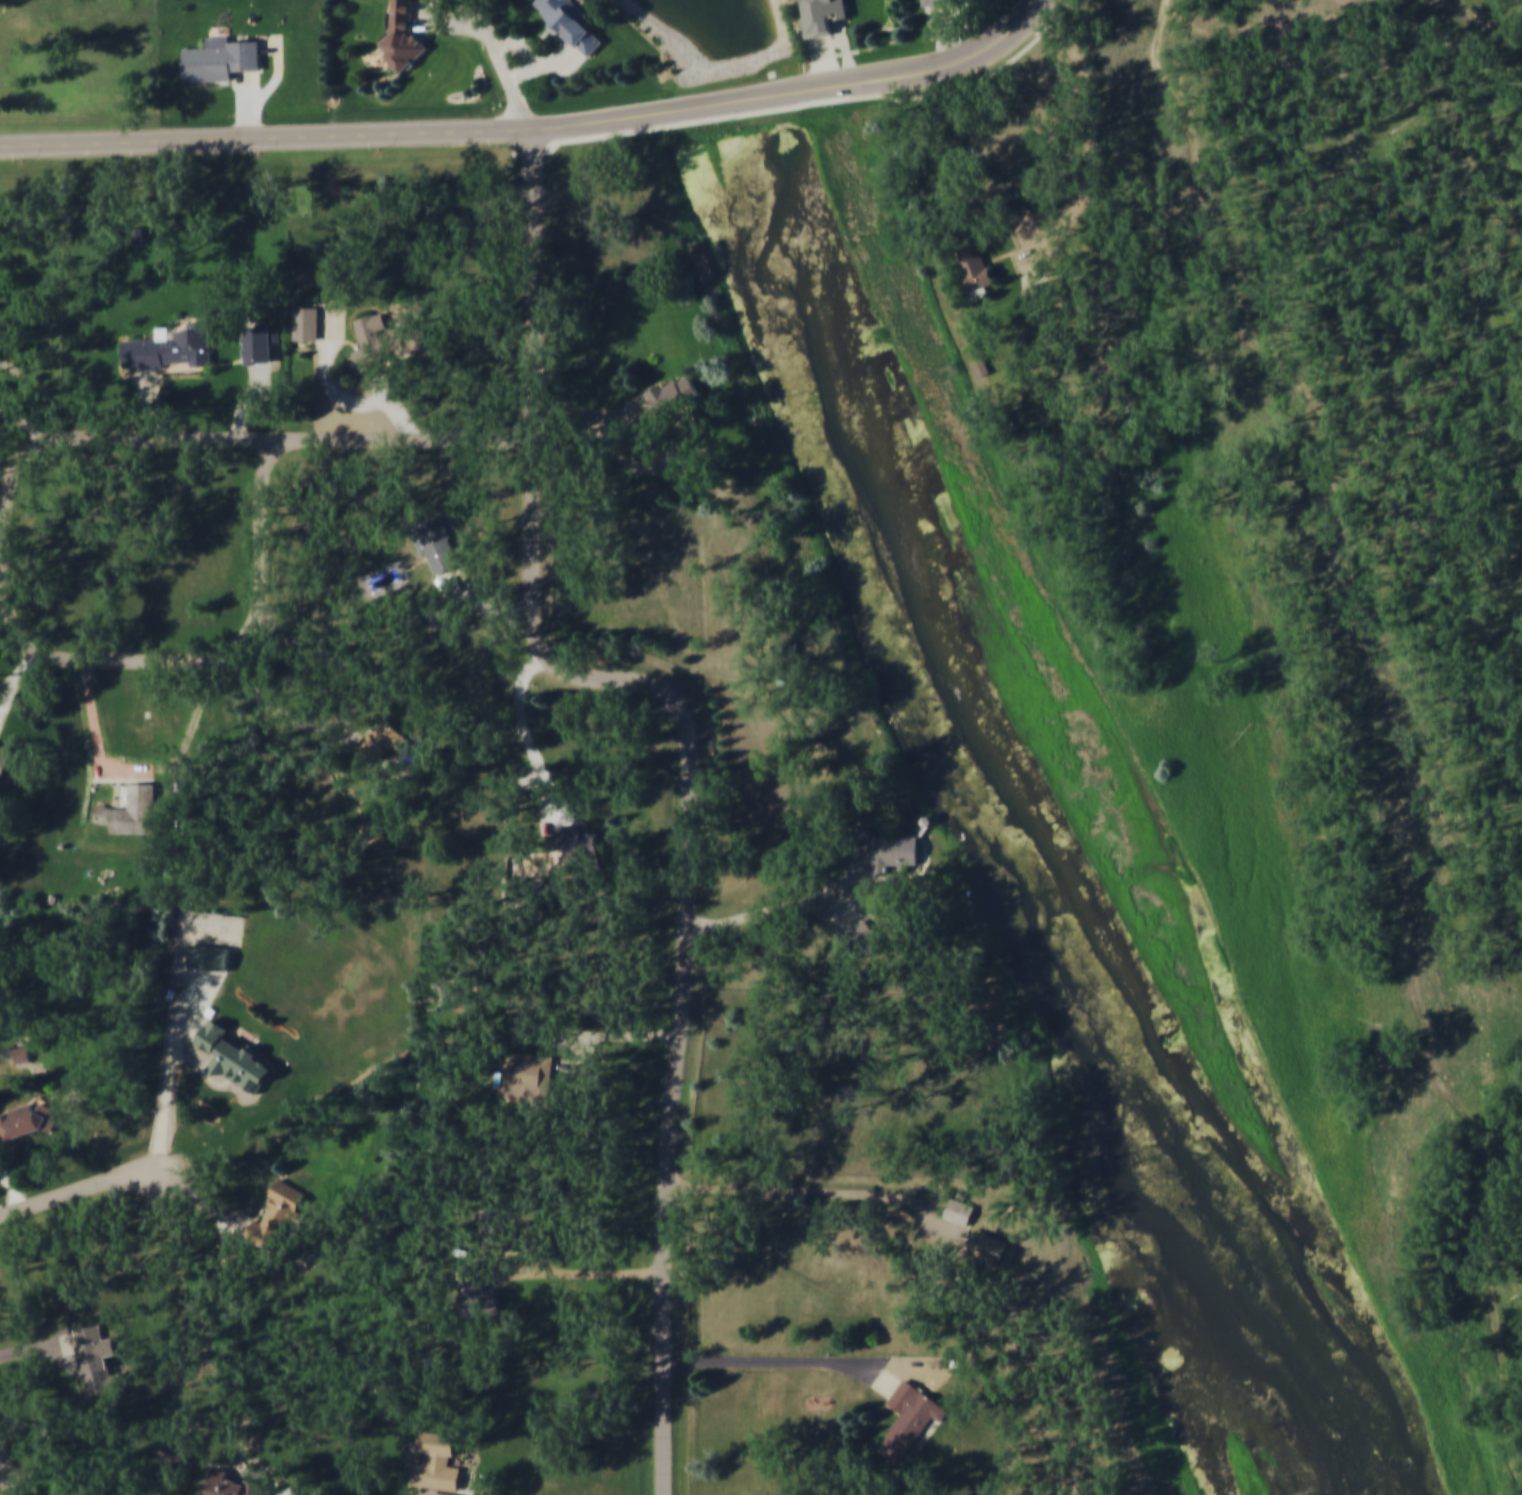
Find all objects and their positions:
building: (939, 1)
road: (436, 9)
building: (823, 15)
road: (449, 19)
building: (573, 22)
road: (968, 25)
building: (402, 34)
road: (523, 42)
road: (788, 46)
road: (680, 52)
road: (835, 54)
building: (220, 59)
road: (503, 65)
road: (548, 66)
road: (926, 71)
road: (278, 74)
road: (829, 100)
road: (250, 106)
road: (397, 140)
road: (1091, 146)
building: (980, 266)
building: (1049, 294)
building: (306, 323)
building: (276, 335)
building: (393, 341)
building: (257, 343)
building: (168, 346)
road: (532, 364)
building: (989, 367)
road: (328, 379)
road: (27, 388)
building: (675, 393)
road: (251, 399)
road: (153, 402)
road: (390, 402)
road: (18, 419)
building: (644, 423)
road: (44, 433)
road: (613, 448)
road: (4, 488)
road: (5, 512)
building: (439, 545)
road: (2, 588)
road: (481, 604)
road: (441, 606)
building: (410, 621)
building: (782, 650)
road: (18, 674)
road: (349, 712)
road: (1391, 727)
road: (528, 738)
road: (97, 740)
park: (1316, 742)
building: (378, 745)
building: (4, 760)
park: (760, 764)
road: (342, 778)
building: (134, 810)
building: (862, 827)
building: (373, 832)
building: (576, 841)
building: (896, 852)
building: (539, 894)
road: (864, 899)
road: (792, 906)
road: (838, 913)
river: (1035, 914)
building: (862, 938)
building: (209, 957)
road: (683, 995)
building: (530, 1000)
road: (195, 1023)
road: (593, 1036)
building: (20, 1055)
building: (232, 1059)
road: (171, 1068)
building: (529, 1076)
building: (26, 1121)
road: (14, 1189)
road: (79, 1191)
road: (793, 1191)
road: (204, 1204)
building: (960, 1213)
building: (278, 1216)
building: (494, 1228)
building: (992, 1248)
building: (231, 1253)
road: (505, 1259)
road: (574, 1272)
building: (477, 1293)
road: (38, 1350)
building: (95, 1359)
road: (785, 1359)
building: (912, 1420)
building: (437, 1464)
road: (8, 1468)
road: (5, 1476)
river: (1375, 1480)
building: (233, 1486)
road: (468, 1488)
building: (434, 1494)

